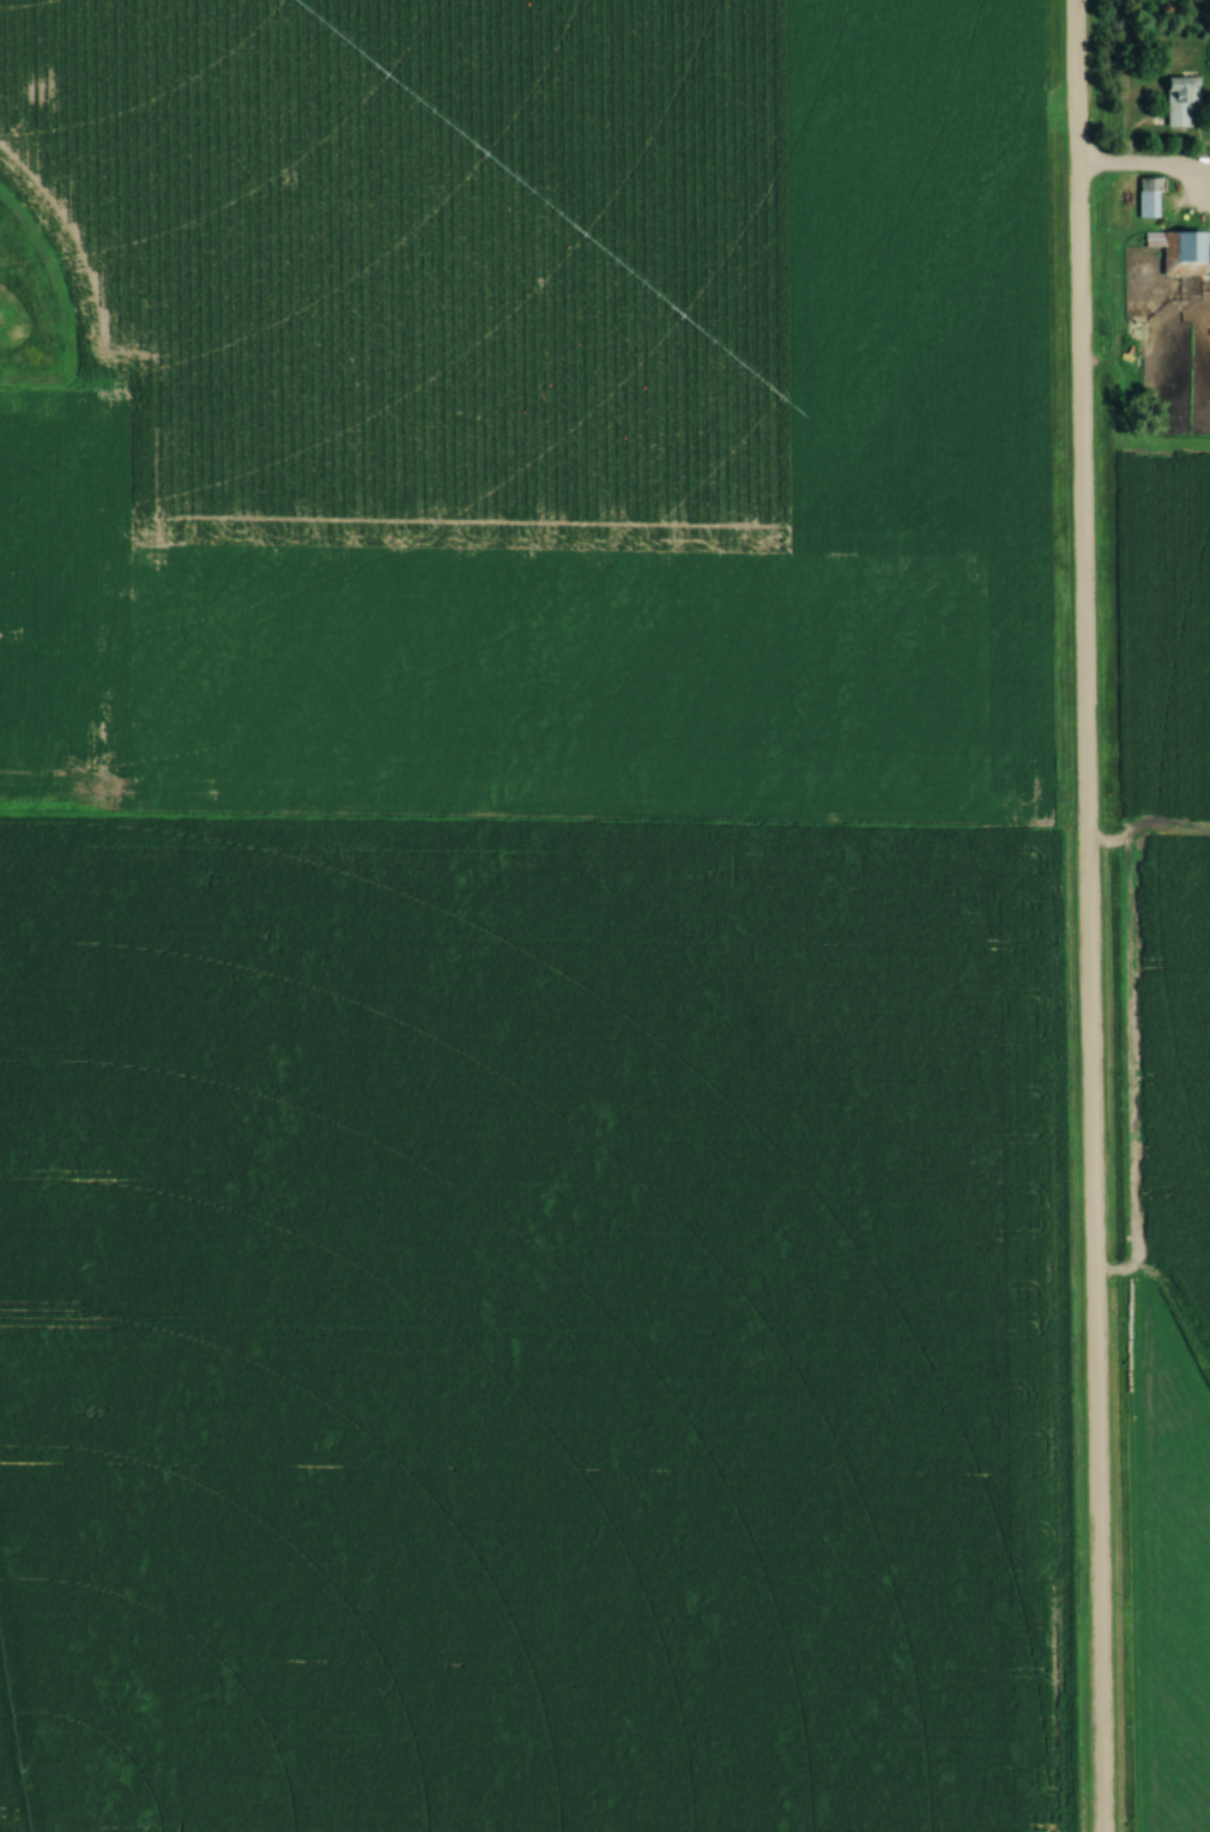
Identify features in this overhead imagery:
building: (1178, 102)
building: (1147, 199)
building: (1178, 254)
road: (1083, 915)

